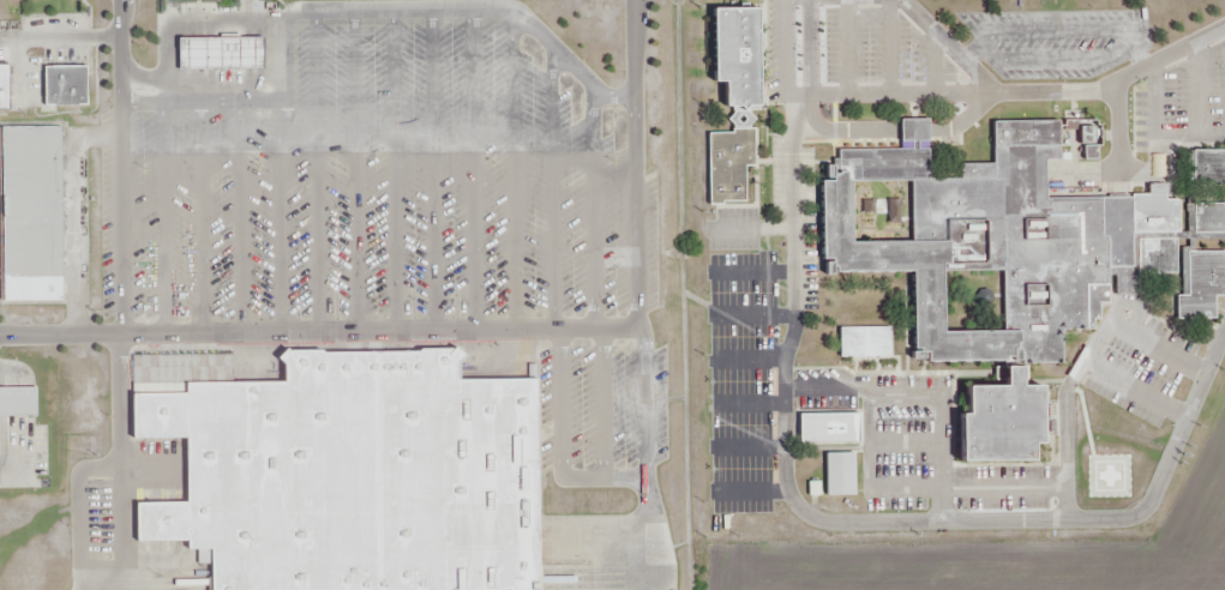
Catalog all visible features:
road: (948, 42)
building: (224, 53)
gas station: (224, 53)
building: (740, 58)
road: (782, 58)
building: (4, 88)
building: (70, 88)
road: (1023, 89)
road: (962, 118)
road: (845, 128)
road: (918, 128)
road: (638, 163)
road: (119, 165)
building: (731, 167)
building: (1209, 167)
parking lot: (392, 186)
building: (32, 215)
building: (1011, 270)
road: (320, 329)
building: (20, 402)
road: (601, 403)
building: (831, 427)
road: (559, 445)
road: (644, 458)
road: (120, 460)
building: (344, 470)
building: (842, 474)
helipad: (1107, 474)
road: (144, 483)
road: (78, 508)
road: (811, 517)
road: (599, 550)

